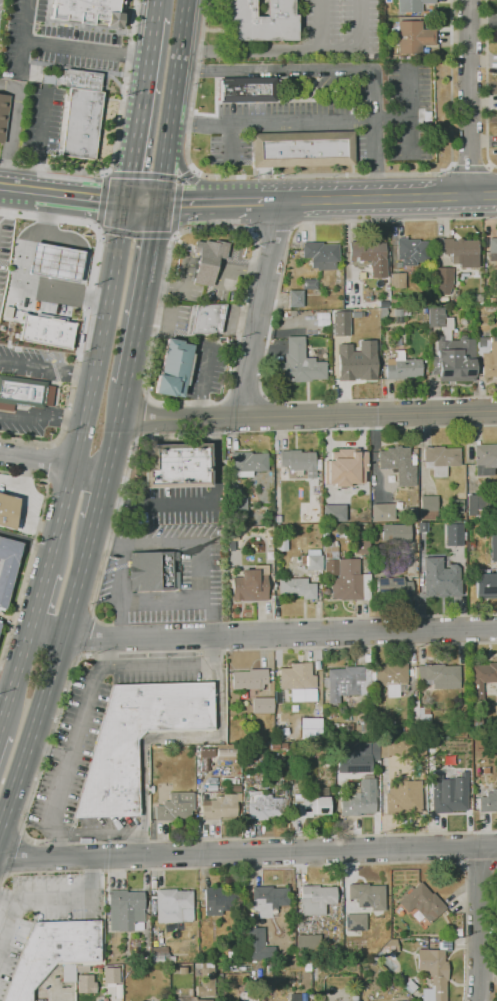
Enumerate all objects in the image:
building: (411, 5)
road: (157, 8)
building: (86, 12)
building: (262, 20)
road: (363, 23)
road: (320, 24)
road: (24, 37)
building: (413, 37)
road: (86, 48)
road: (271, 49)
road: (298, 69)
building: (74, 79)
road: (487, 86)
building: (245, 90)
road: (469, 97)
road: (171, 102)
road: (141, 110)
building: (3, 114)
building: (80, 123)
road: (309, 123)
road: (13, 128)
road: (117, 140)
road: (39, 141)
building: (301, 149)
road: (471, 165)
traffic signals: (132, 170)
road: (320, 175)
road: (18, 188)
road: (82, 196)
traffic signals: (98, 198)
road: (379, 198)
road: (103, 199)
road: (210, 202)
traffic signals: (182, 204)
road: (143, 205)
traffic signals: (153, 240)
building: (492, 249)
building: (411, 251)
building: (459, 251)
building: (321, 255)
building: (369, 256)
building: (207, 260)
building: (55, 261)
road: (20, 277)
building: (397, 281)
building: (443, 282)
building: (310, 284)
road: (142, 297)
road: (163, 297)
building: (295, 298)
building: (492, 300)
building: (396, 301)
road: (259, 309)
building: (398, 313)
road: (85, 315)
parking lot: (175, 317)
building: (436, 317)
building: (205, 319)
building: (340, 323)
road: (273, 327)
building: (46, 330)
building: (454, 359)
building: (490, 359)
building: (357, 361)
building: (299, 364)
building: (402, 367)
road: (48, 368)
parking lot: (205, 368)
building: (173, 369)
road: (203, 384)
road: (94, 388)
building: (22, 392)
road: (246, 395)
road: (269, 414)
road: (42, 416)
road: (308, 416)
road: (115, 430)
road: (212, 434)
building: (440, 459)
building: (485, 459)
building: (298, 462)
road: (49, 463)
road: (52, 463)
building: (247, 463)
building: (318, 465)
building: (177, 466)
building: (397, 466)
building: (346, 467)
road: (98, 502)
building: (475, 504)
building: (238, 507)
building: (428, 507)
building: (455, 507)
building: (8, 511)
building: (382, 512)
building: (496, 512)
building: (334, 513)
building: (412, 515)
building: (395, 534)
building: (452, 534)
building: (232, 539)
road: (28, 540)
road: (106, 541)
road: (160, 544)
building: (360, 545)
building: (493, 548)
road: (31, 549)
building: (311, 562)
building: (7, 567)
building: (153, 571)
road: (122, 574)
building: (344, 575)
building: (440, 578)
building: (324, 583)
building: (250, 584)
building: (485, 586)
building: (297, 588)
building: (393, 588)
building: (325, 591)
road: (39, 599)
road: (170, 601)
road: (212, 615)
road: (363, 617)
road: (263, 634)
road: (170, 665)
building: (439, 675)
road: (16, 677)
building: (373, 677)
building: (392, 678)
building: (249, 679)
building: (298, 679)
building: (481, 679)
road: (48, 680)
building: (347, 682)
road: (5, 694)
building: (496, 695)
building: (262, 705)
building: (332, 708)
road: (3, 709)
building: (334, 713)
building: (424, 714)
building: (475, 723)
building: (335, 725)
building: (350, 726)
building: (310, 728)
building: (360, 728)
building: (457, 728)
building: (405, 729)
building: (280, 730)
road: (170, 737)
road: (69, 745)
building: (274, 747)
building: (374, 748)
building: (401, 748)
road: (46, 751)
building: (226, 752)
road: (40, 771)
building: (110, 777)
building: (231, 781)
building: (448, 793)
building: (403, 797)
building: (359, 799)
building: (488, 802)
building: (311, 803)
building: (264, 806)
building: (174, 807)
building: (220, 807)
road: (95, 832)
road: (137, 844)
road: (248, 852)
road: (295, 867)
road: (479, 868)
building: (367, 896)
road: (73, 899)
building: (316, 899)
building: (268, 900)
building: (220, 901)
building: (422, 903)
building: (171, 905)
building: (125, 911)
road: (12, 918)
building: (355, 922)
road: (480, 923)
building: (457, 932)
building: (391, 943)
building: (258, 946)
building: (307, 947)
building: (352, 949)
building: (157, 953)
building: (54, 954)
building: (229, 956)
building: (158, 959)
building: (182, 971)
building: (433, 973)
building: (110, 974)
building: (206, 980)
building: (274, 980)
building: (84, 983)
building: (410, 985)
building: (117, 990)
road: (54, 992)
building: (260, 994)
building: (248, 996)
building: (294, 997)
building: (354, 998)
building: (185, 999)
building: (205, 1000)
building: (363, 1000)

